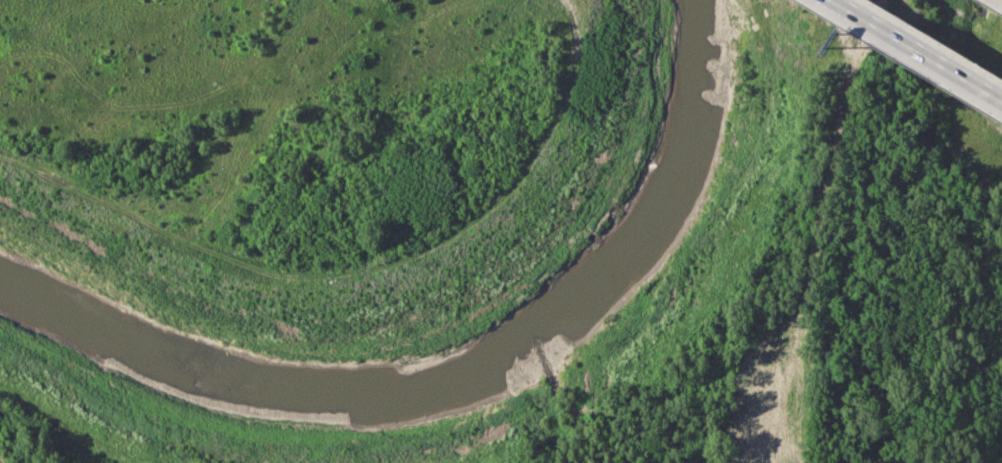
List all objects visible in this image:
road: (918, 50)
river: (454, 371)

